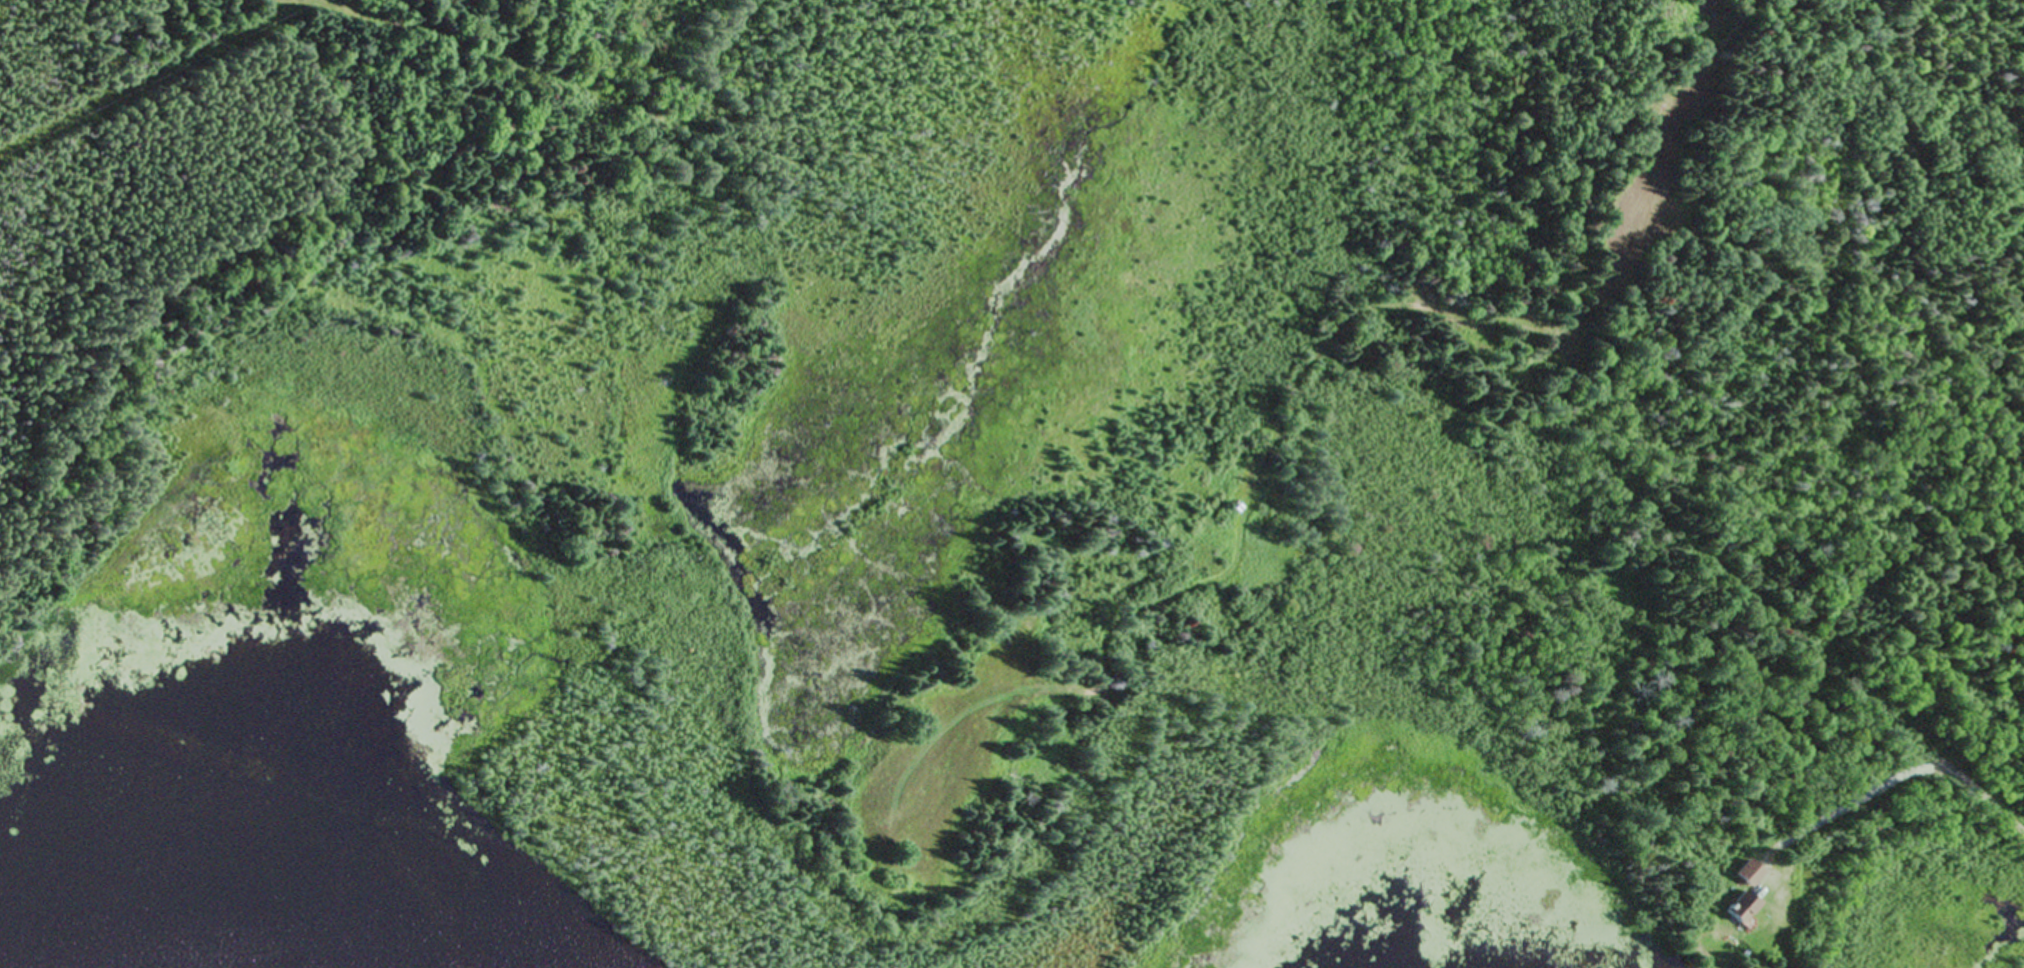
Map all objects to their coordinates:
building: (1744, 874)
building: (1735, 909)

